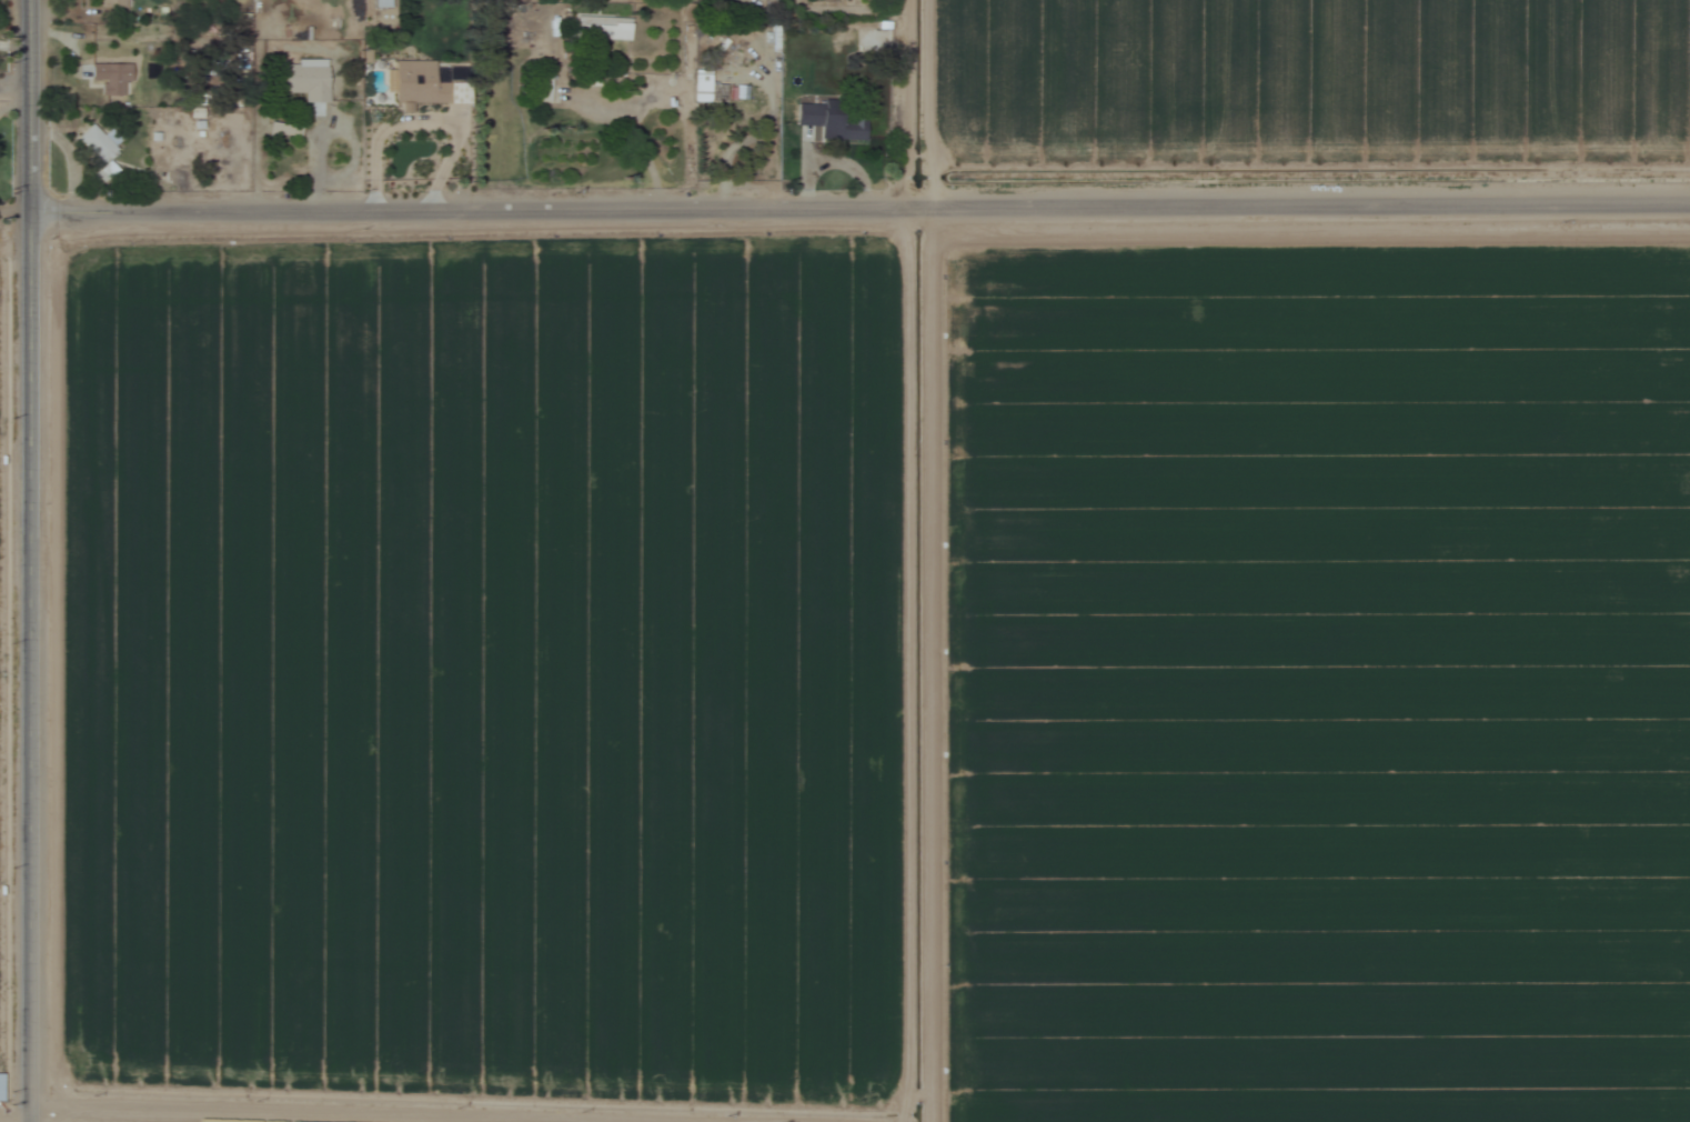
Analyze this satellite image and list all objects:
building: (105, 4)
building: (595, 44)
building: (300, 80)
building: (419, 84)
building: (698, 87)
building: (540, 88)
road: (14, 89)
building: (823, 121)
building: (92, 152)
road: (845, 214)
road: (18, 560)

